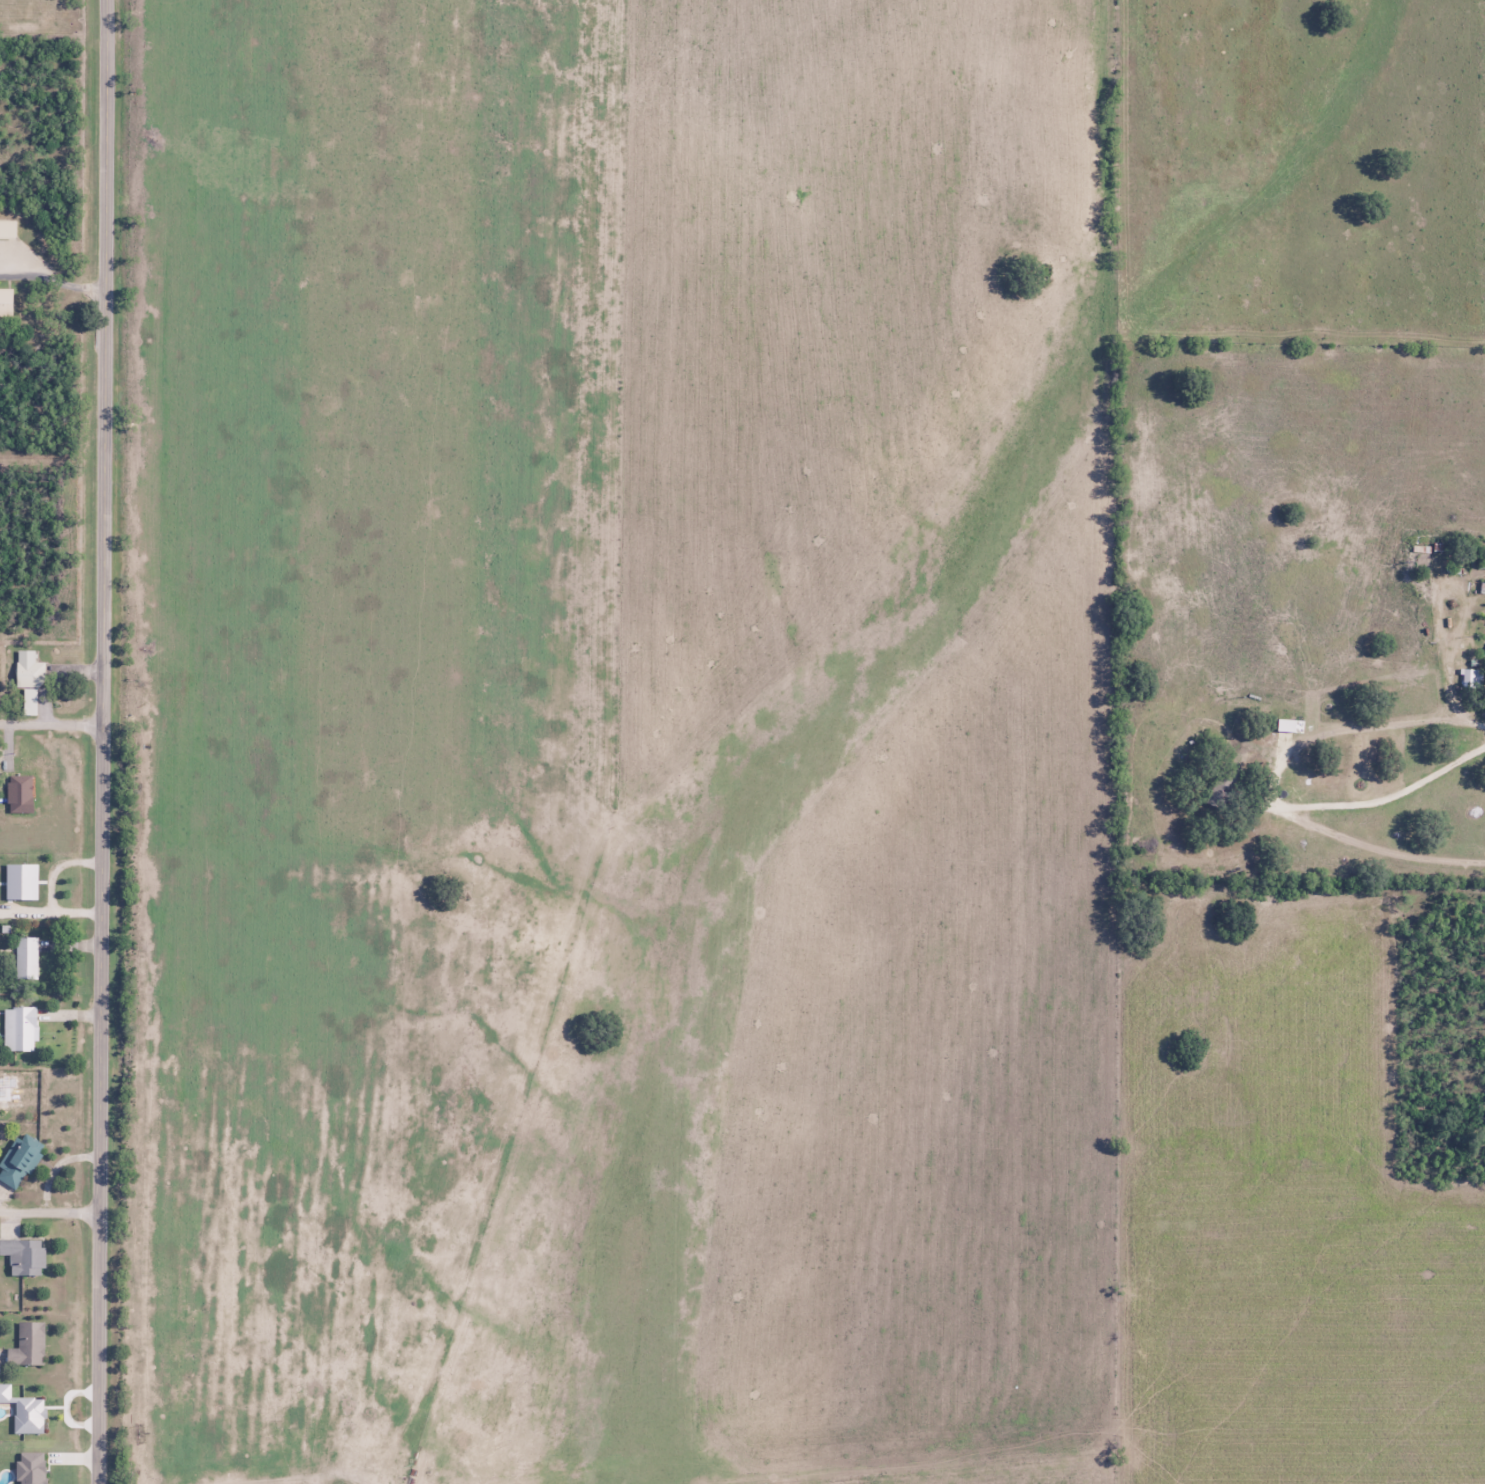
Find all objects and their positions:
building: (7, 229)
building: (5, 300)
building: (28, 677)
road: (52, 725)
road: (104, 742)
road: (1282, 809)
building: (25, 958)
building: (19, 1028)
building: (18, 1159)
road: (51, 1212)
building: (24, 1256)
building: (27, 1345)

